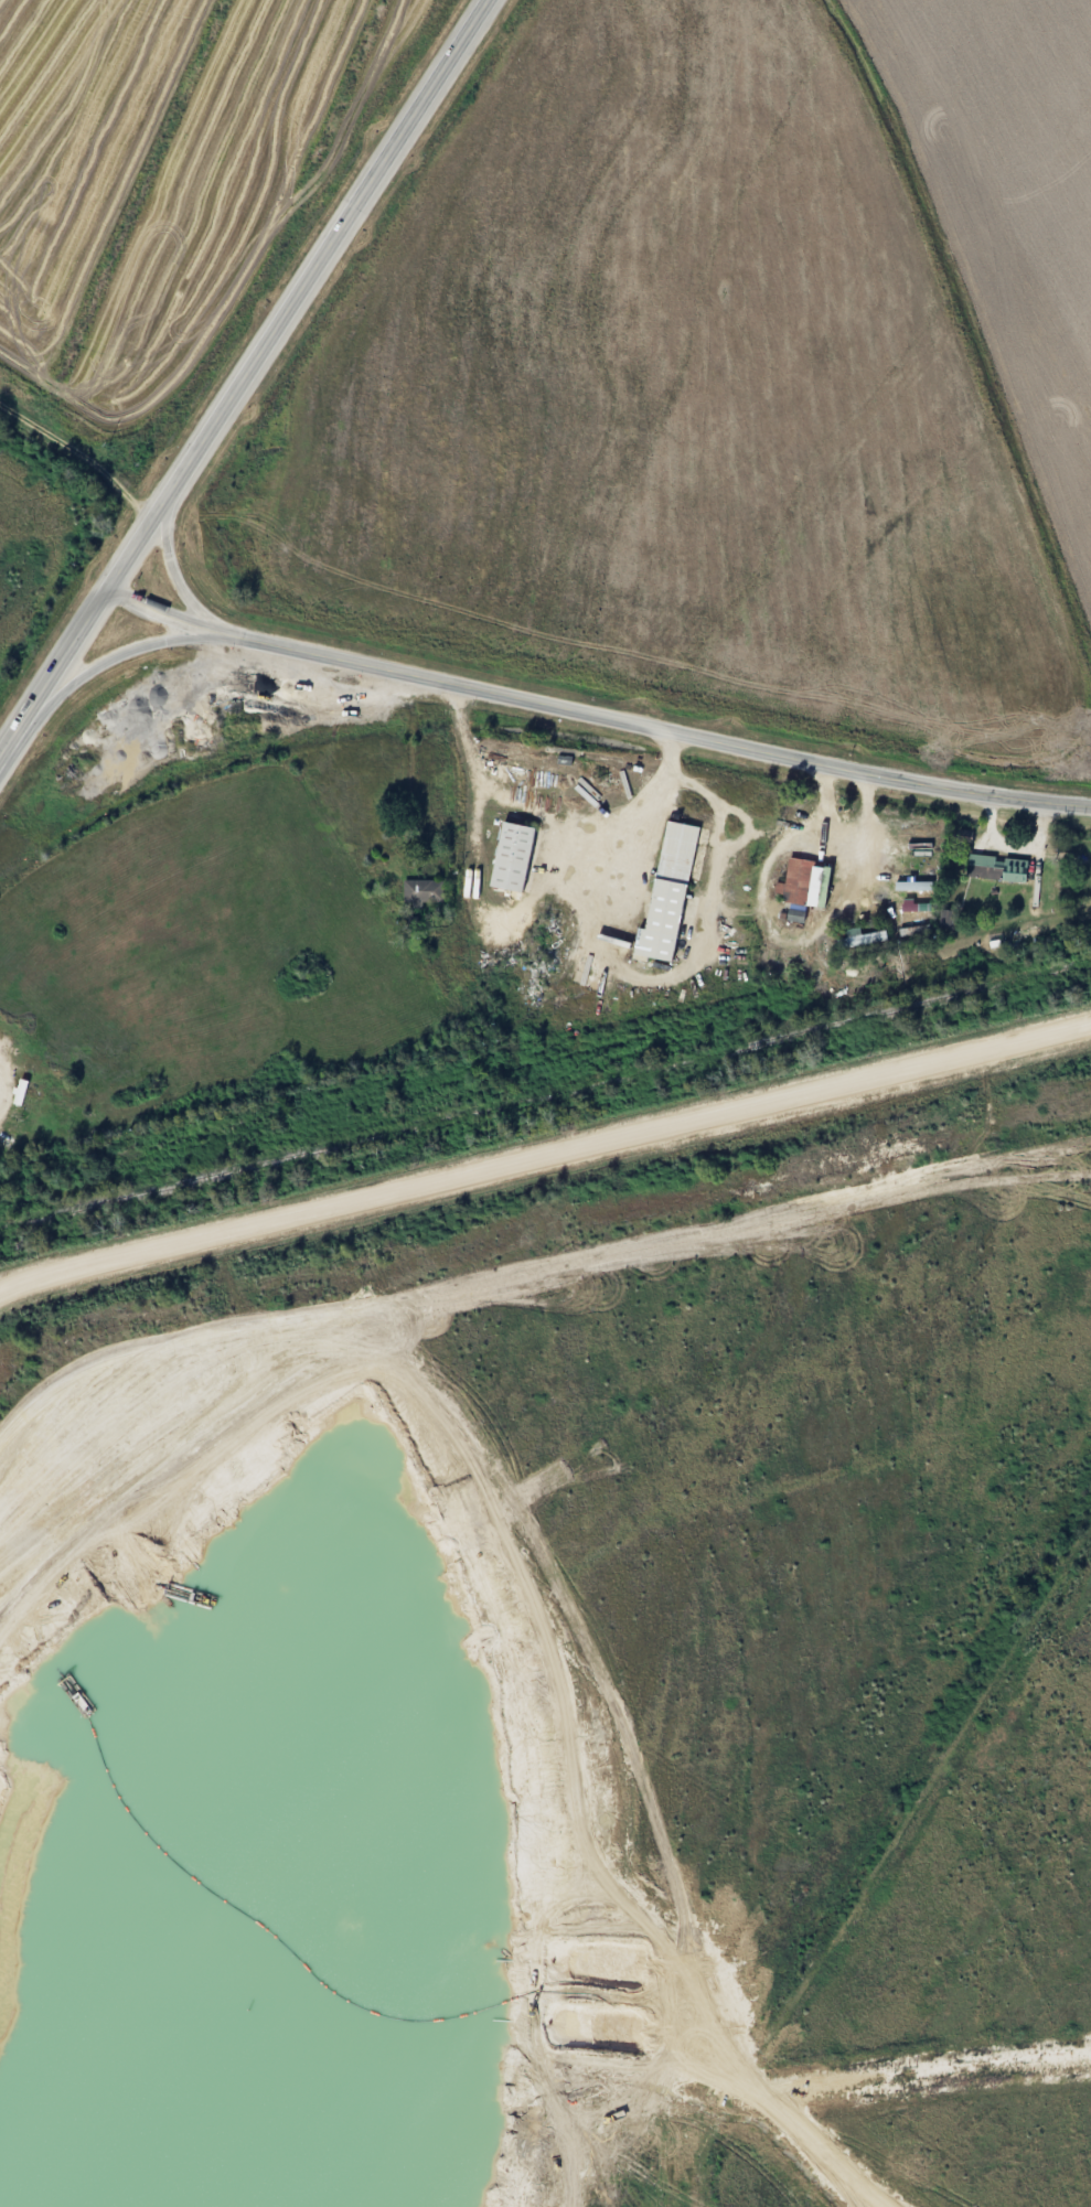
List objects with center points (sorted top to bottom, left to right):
road: (445, 56)
road: (290, 299)
road: (138, 536)
road: (173, 568)
road: (164, 612)
road: (62, 655)
road: (111, 656)
road: (655, 724)
road: (9, 736)
building: (518, 857)
building: (1002, 868)
building: (918, 886)
building: (823, 888)
building: (800, 889)
building: (427, 892)
building: (673, 893)
building: (950, 918)
building: (865, 940)
building: (23, 1092)
railway: (545, 1095)
road: (545, 1157)
road: (869, 1868)

